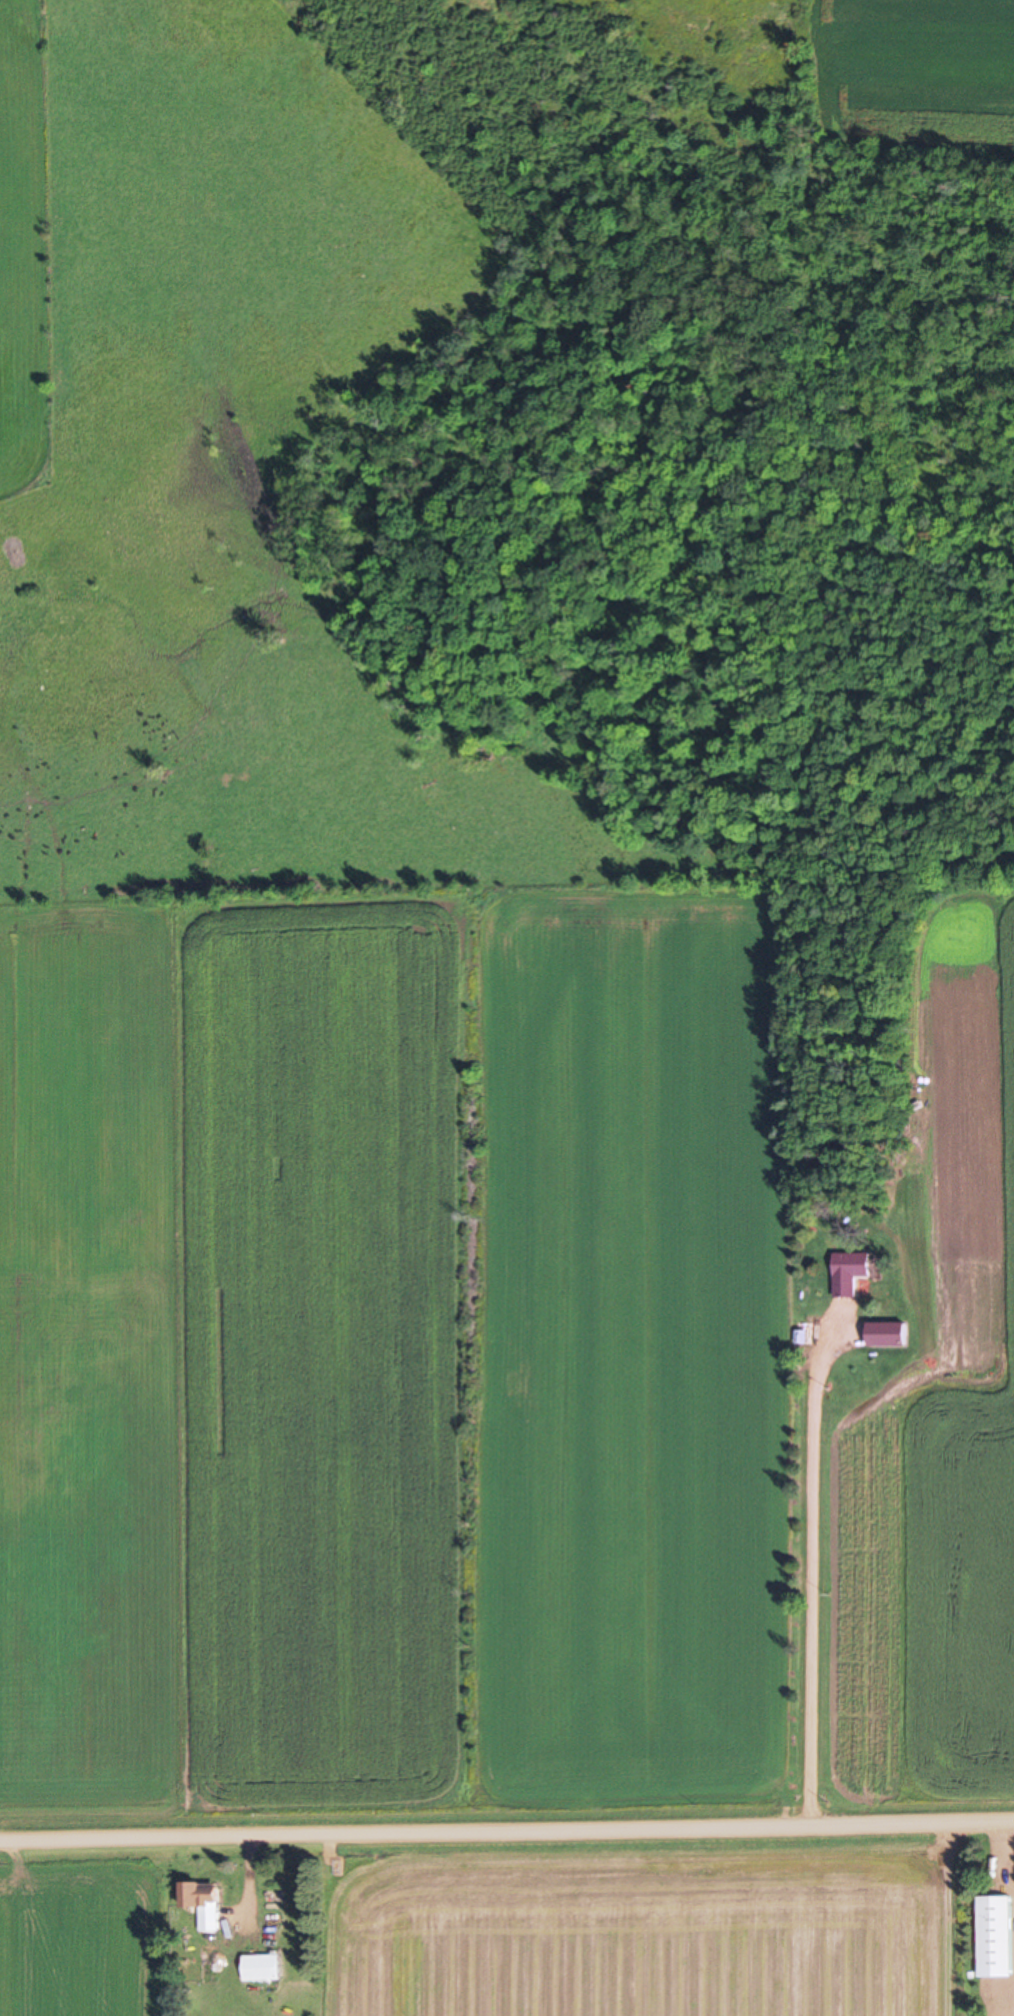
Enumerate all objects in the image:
building: (852, 1271)
building: (803, 1336)
road: (507, 1830)
building: (205, 1903)
building: (997, 1935)
building: (211, 1954)
building: (264, 1967)

